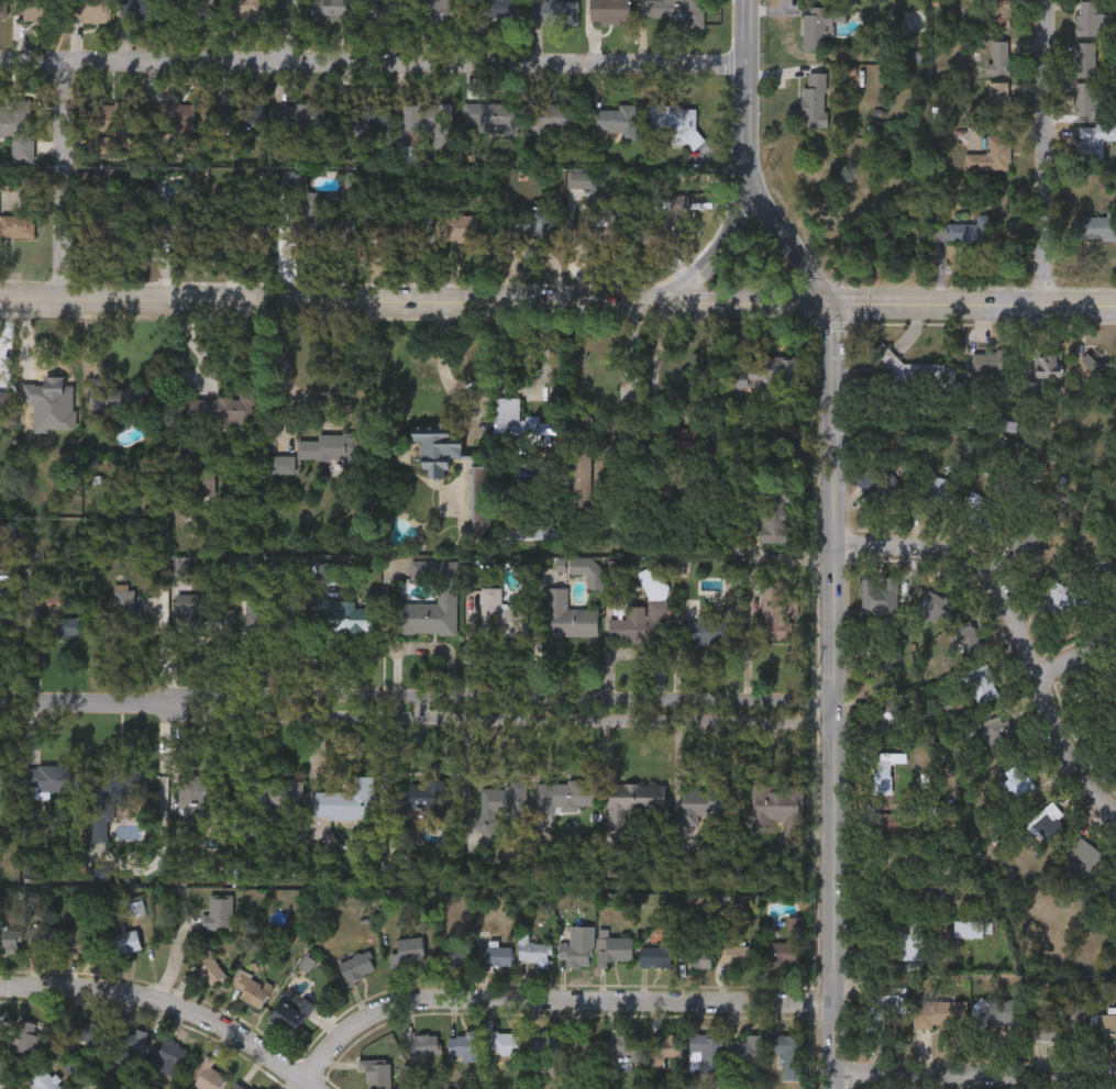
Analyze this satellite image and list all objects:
building: (137, 8)
building: (2, 9)
building: (330, 9)
building: (493, 9)
building: (33, 10)
building: (87, 10)
building: (190, 10)
building: (242, 10)
building: (382, 10)
building: (440, 10)
building: (608, 10)
building: (553, 11)
building: (673, 11)
building: (994, 13)
building: (1089, 18)
building: (913, 19)
building: (819, 23)
road: (291, 32)
building: (998, 55)
building: (1085, 57)
road: (371, 64)
building: (998, 96)
building: (1085, 96)
building: (814, 98)
building: (297, 113)
building: (365, 113)
building: (550, 113)
building: (168, 114)
building: (239, 114)
building: (489, 114)
building: (104, 115)
building: (12, 118)
building: (614, 119)
building: (429, 120)
building: (676, 122)
building: (1093, 138)
building: (990, 153)
road: (1052, 154)
road: (743, 166)
road: (64, 178)
building: (108, 208)
building: (669, 218)
building: (321, 222)
building: (241, 223)
building: (16, 224)
building: (172, 224)
building: (528, 224)
building: (596, 224)
building: (391, 225)
building: (1098, 225)
building: (457, 227)
building: (969, 230)
road: (714, 248)
road: (317, 297)
road: (650, 301)
road: (748, 303)
traffic signals: (830, 304)
road: (972, 308)
road: (634, 356)
road: (284, 360)
road: (656, 363)
building: (990, 365)
building: (1049, 365)
road: (441, 368)
building: (911, 377)
building: (755, 381)
building: (47, 397)
building: (115, 397)
building: (3, 398)
road: (307, 401)
building: (220, 408)
building: (506, 409)
building: (27, 443)
building: (434, 445)
building: (933, 491)
building: (981, 513)
building: (772, 521)
building: (1027, 540)
building: (879, 593)
building: (1059, 599)
building: (429, 605)
building: (930, 605)
building: (119, 613)
building: (200, 613)
building: (499, 613)
building: (773, 613)
building: (274, 614)
building: (342, 614)
building: (567, 615)
building: (3, 616)
road: (1010, 620)
building: (639, 623)
building: (54, 624)
building: (711, 626)
building: (963, 635)
road: (1075, 653)
building: (882, 658)
building: (981, 684)
road: (497, 696)
road: (829, 696)
road: (84, 700)
building: (892, 715)
road: (496, 718)
building: (991, 733)
building: (51, 777)
building: (1017, 778)
building: (4, 779)
building: (274, 791)
building: (111, 793)
building: (564, 794)
building: (345, 798)
building: (631, 799)
building: (705, 801)
building: (778, 801)
building: (197, 802)
building: (417, 802)
building: (499, 802)
building: (1047, 821)
building: (1083, 858)
building: (1112, 893)
building: (217, 913)
building: (43, 938)
building: (9, 940)
building: (79, 941)
building: (123, 941)
building: (576, 944)
building: (612, 947)
building: (407, 949)
building: (531, 949)
building: (730, 951)
building: (453, 952)
building: (495, 953)
building: (776, 953)
building: (653, 954)
building: (694, 956)
building: (355, 965)
building: (209, 967)
building: (250, 987)
road: (551, 999)
road: (170, 1004)
building: (882, 1011)
building: (998, 1011)
building: (289, 1013)
building: (939, 1014)
building: (1059, 1022)
building: (1107, 1024)
building: (87, 1031)
building: (24, 1035)
building: (504, 1041)
building: (543, 1042)
building: (129, 1043)
building: (423, 1043)
building: (464, 1044)
building: (623, 1044)
building: (666, 1044)
building: (584, 1048)
building: (705, 1048)
building: (745, 1051)
building: (787, 1052)
building: (169, 1055)
road: (972, 1070)
building: (374, 1071)
building: (207, 1075)
building: (43, 1080)
building: (240, 1085)
building: (409, 1088)

